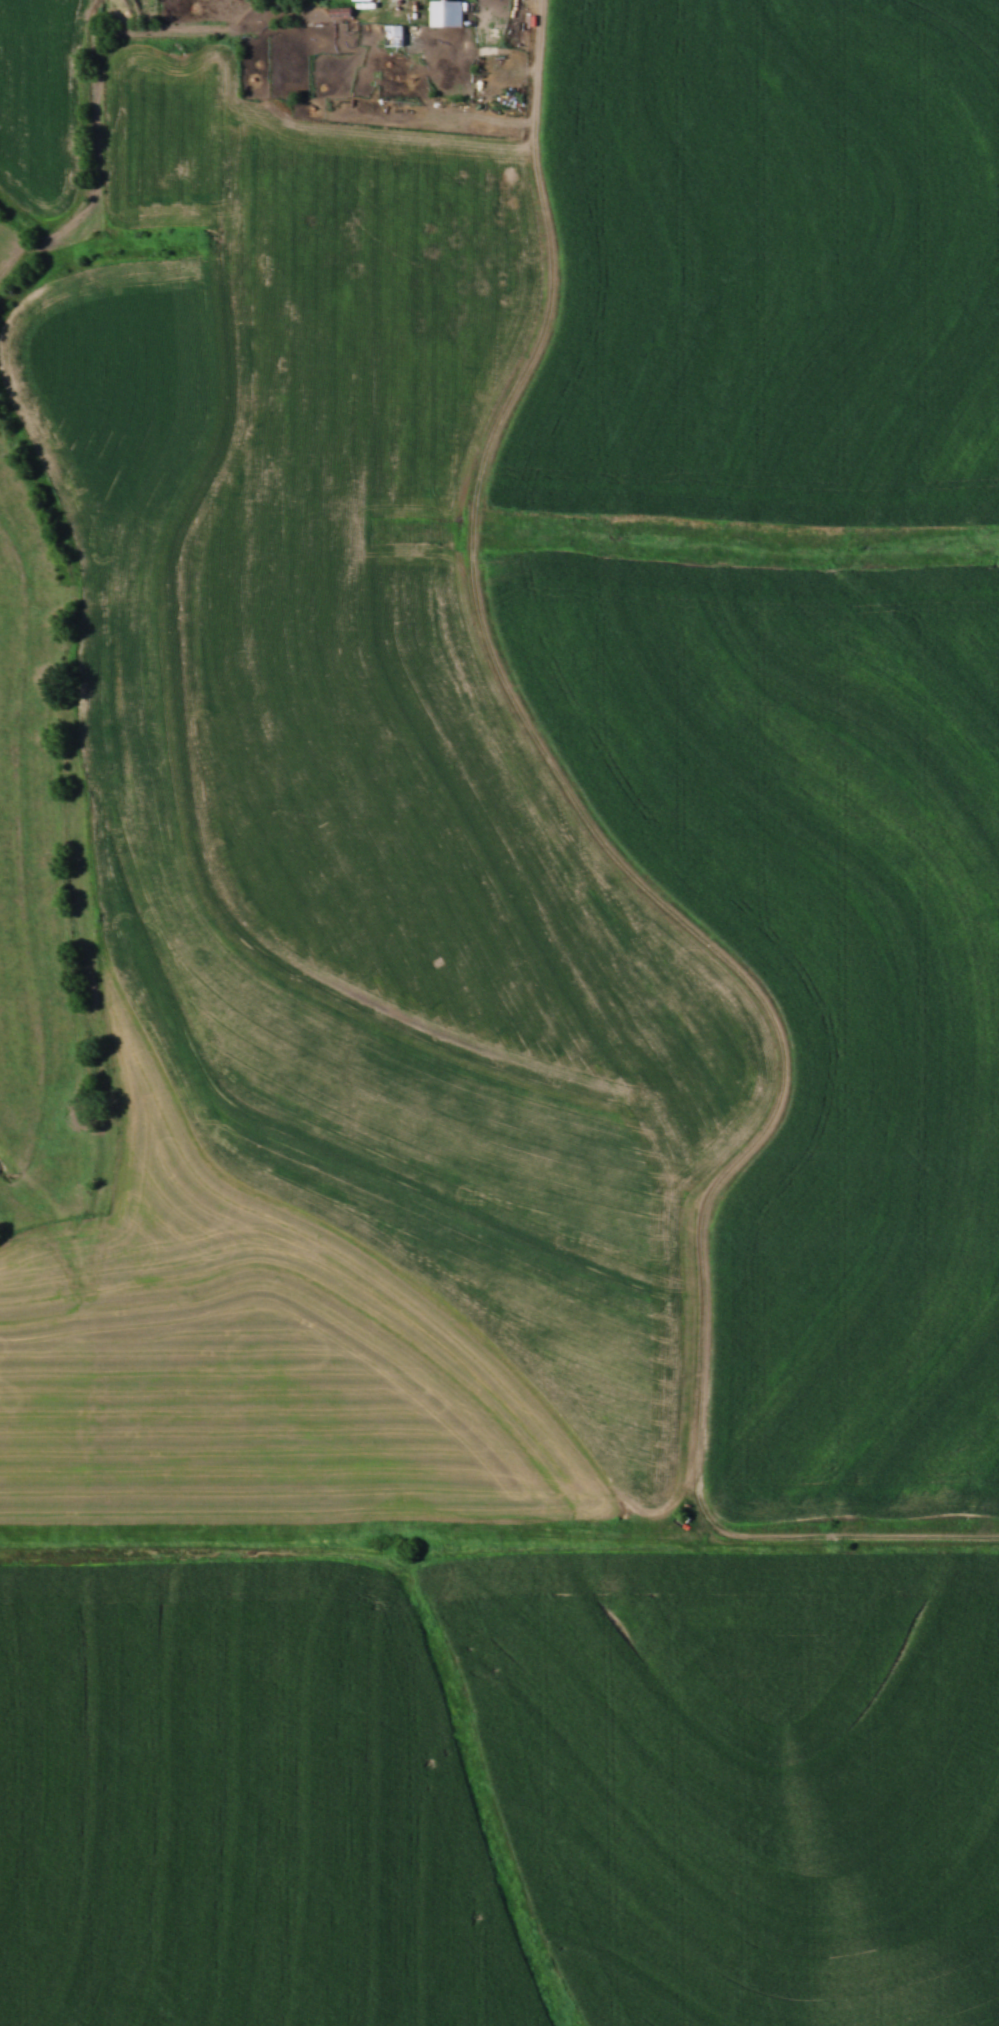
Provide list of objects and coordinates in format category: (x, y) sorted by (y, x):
building: (364, 0)
building: (447, 13)
building: (396, 36)

